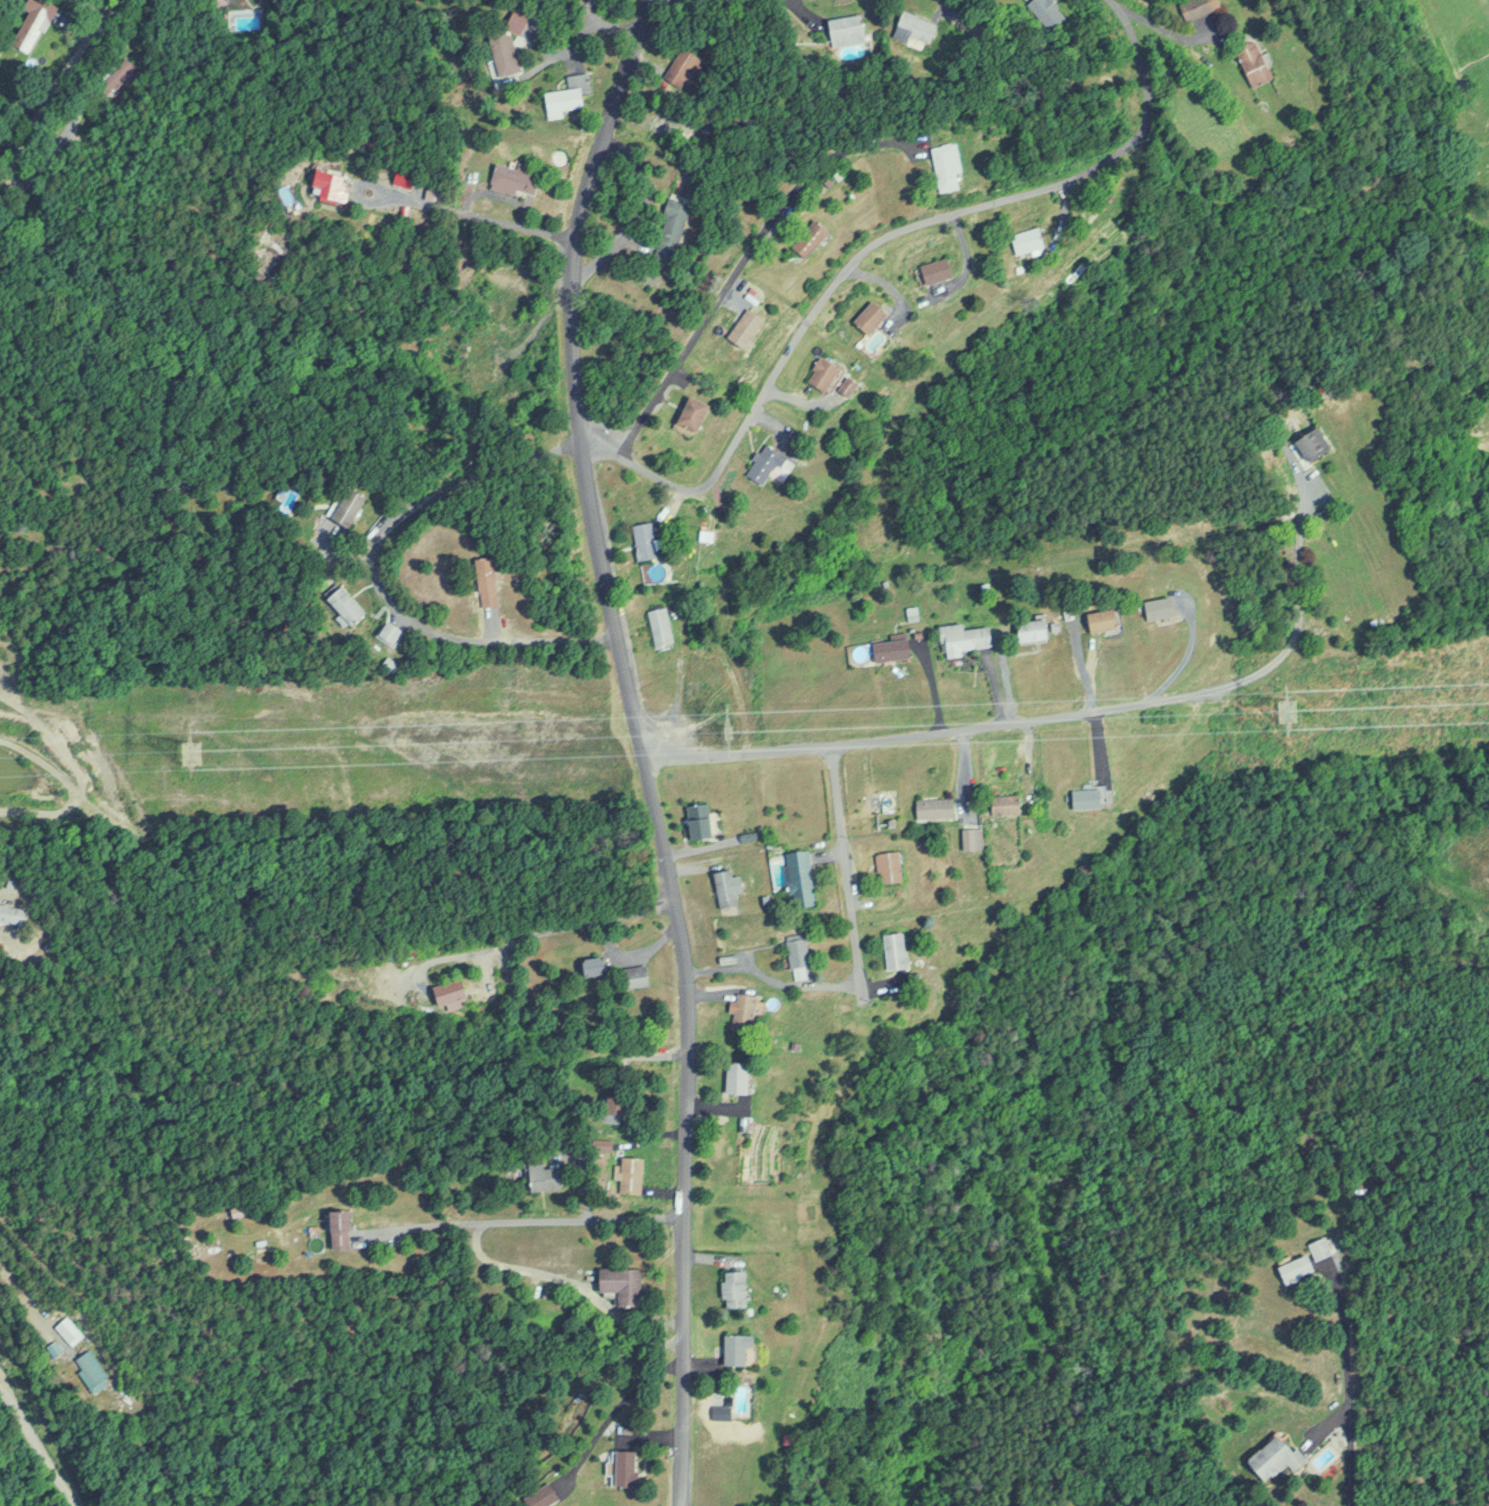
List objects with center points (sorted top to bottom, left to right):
road: (714, 0)
building: (1199, 7)
building: (1045, 10)
building: (34, 23)
building: (915, 26)
building: (848, 29)
building: (1258, 63)
building: (681, 64)
road: (55, 80)
building: (564, 100)
building: (951, 164)
building: (516, 177)
building: (404, 180)
building: (333, 184)
road: (477, 213)
building: (671, 230)
building: (814, 236)
road: (872, 238)
building: (1033, 239)
road: (739, 264)
building: (940, 268)
building: (874, 315)
building: (750, 325)
building: (826, 371)
building: (851, 383)
building: (525, 411)
building: (696, 413)
building: (1313, 443)
building: (768, 461)
building: (349, 505)
building: (649, 540)
road: (379, 572)
building: (489, 579)
building: (347, 604)
building: (1164, 606)
building: (1106, 619)
building: (662, 625)
building: (1033, 628)
building: (392, 630)
building: (964, 637)
building: (897, 648)
power tower: (1294, 711)
road: (1049, 717)
power tower: (730, 732)
road: (638, 745)
power tower: (187, 750)
building: (1090, 797)
building: (1009, 804)
building: (937, 807)
building: (701, 820)
building: (976, 837)
road: (844, 866)
building: (892, 866)
building: (802, 877)
building: (726, 887)
building: (15, 913)
road: (538, 929)
building: (898, 950)
building: (800, 953)
building: (595, 965)
building: (637, 976)
building: (452, 993)
building: (746, 1010)
road: (562, 1038)
park: (1425, 1059)
building: (739, 1076)
building: (545, 1175)
road: (524, 1216)
building: (343, 1228)
building: (313, 1232)
building: (1320, 1248)
building: (1298, 1268)
building: (623, 1283)
building: (737, 1288)
building: (69, 1329)
building: (738, 1349)
building: (93, 1370)
road: (1348, 1386)
road: (37, 1446)
building: (1275, 1457)
building: (627, 1467)
building: (542, 1495)

